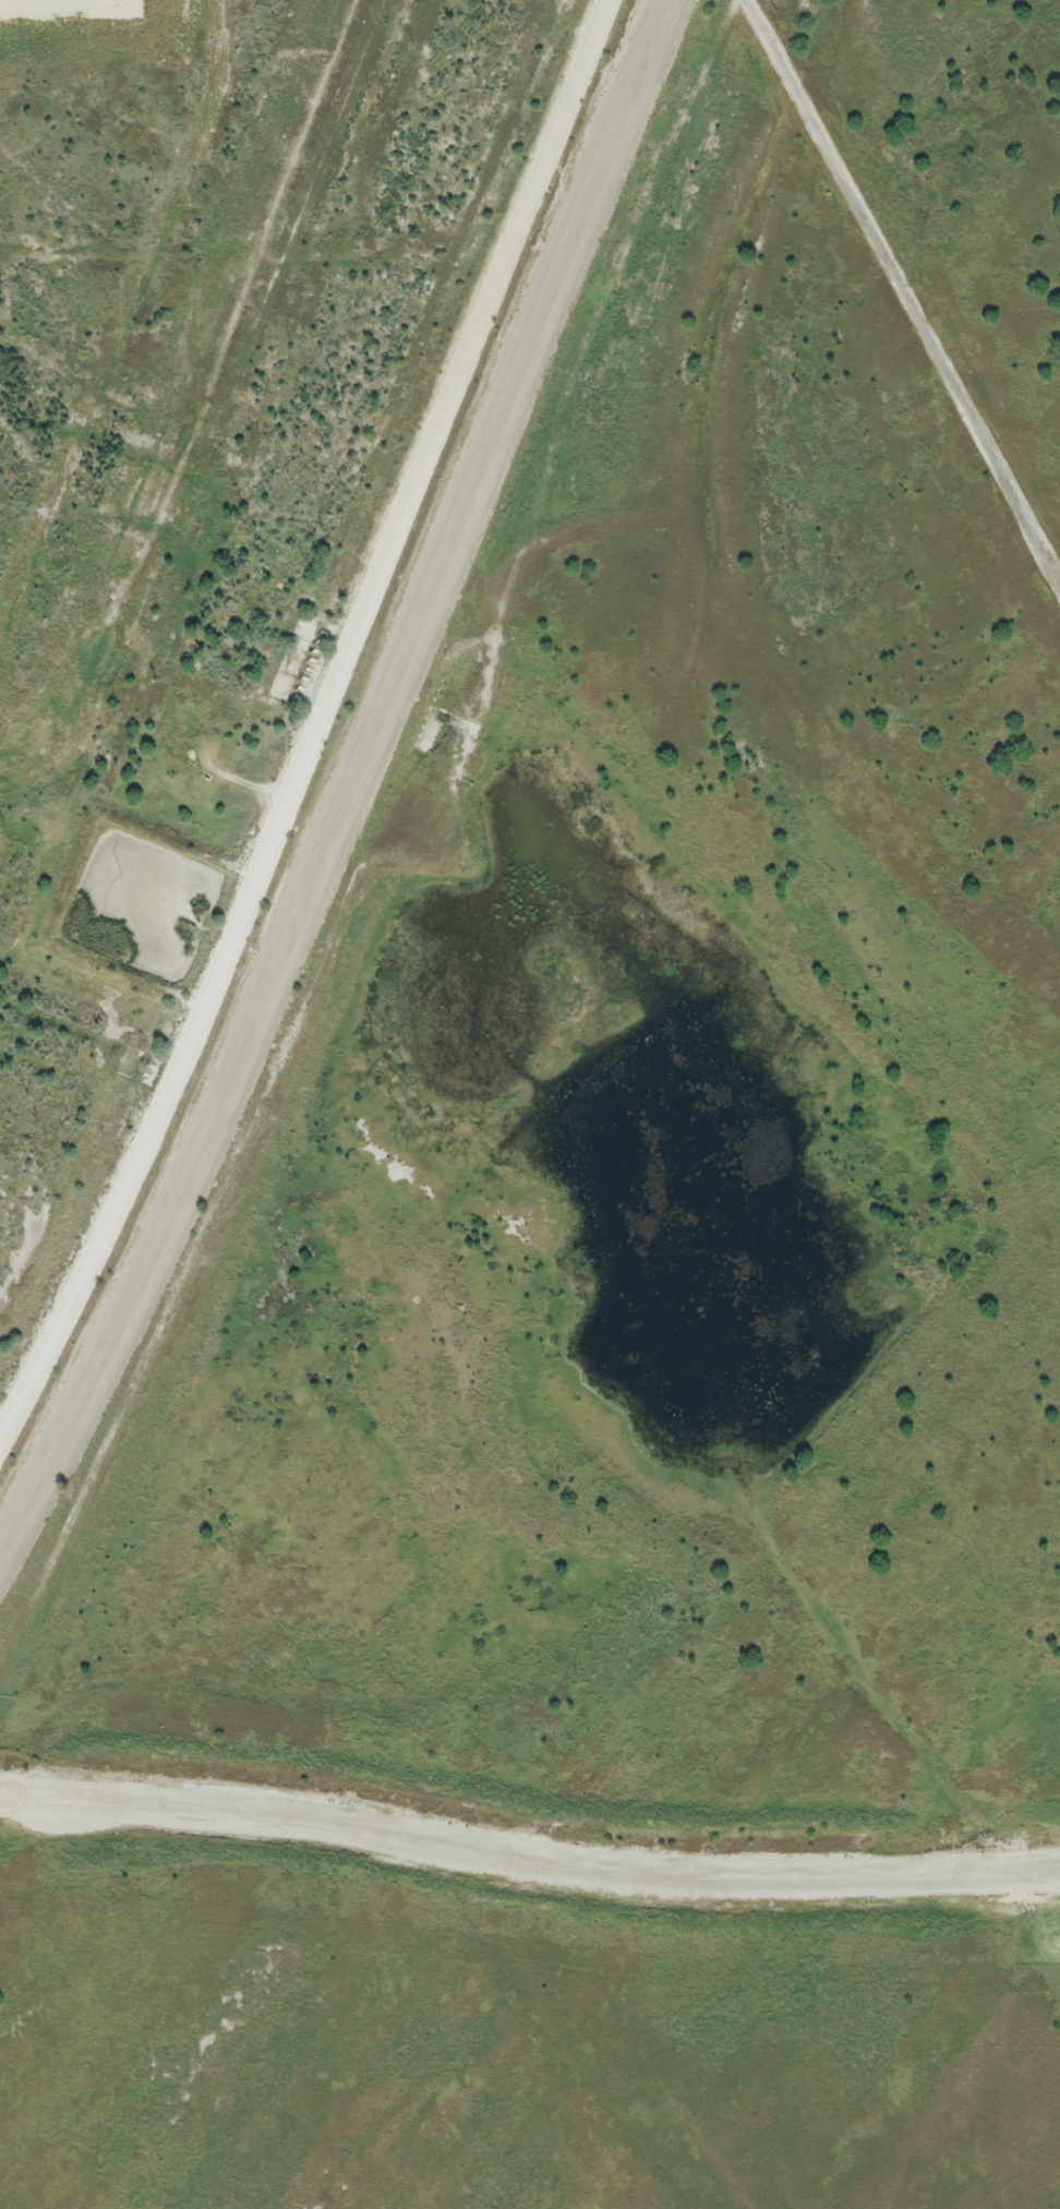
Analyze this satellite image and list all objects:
road: (144, 98)
road: (57, 264)
road: (320, 723)
road: (372, 796)
quarry: (598, 1230)

